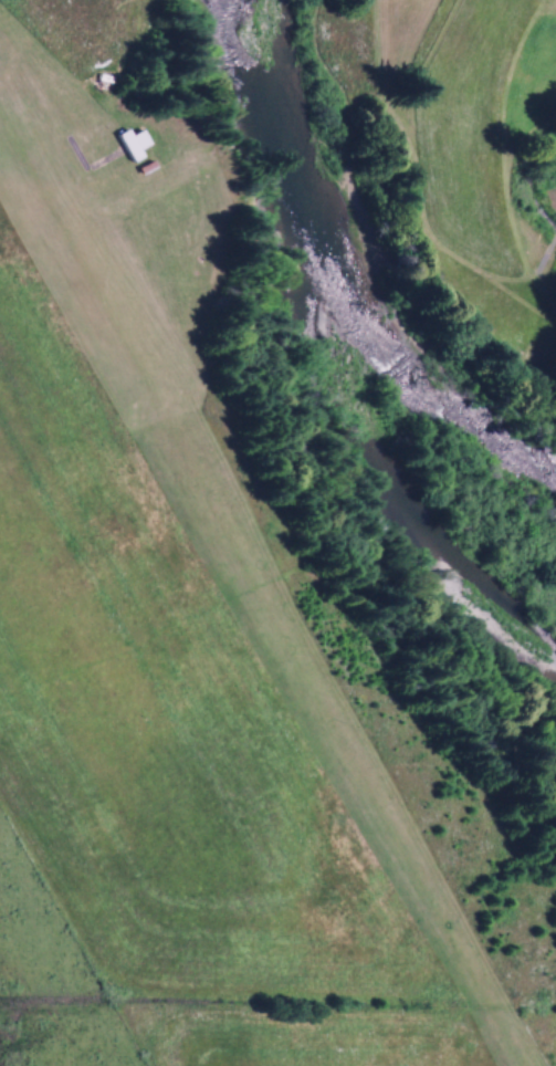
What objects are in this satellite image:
road: (65, 111)
building: (129, 145)
river: (324, 284)
airport runway: (253, 624)

